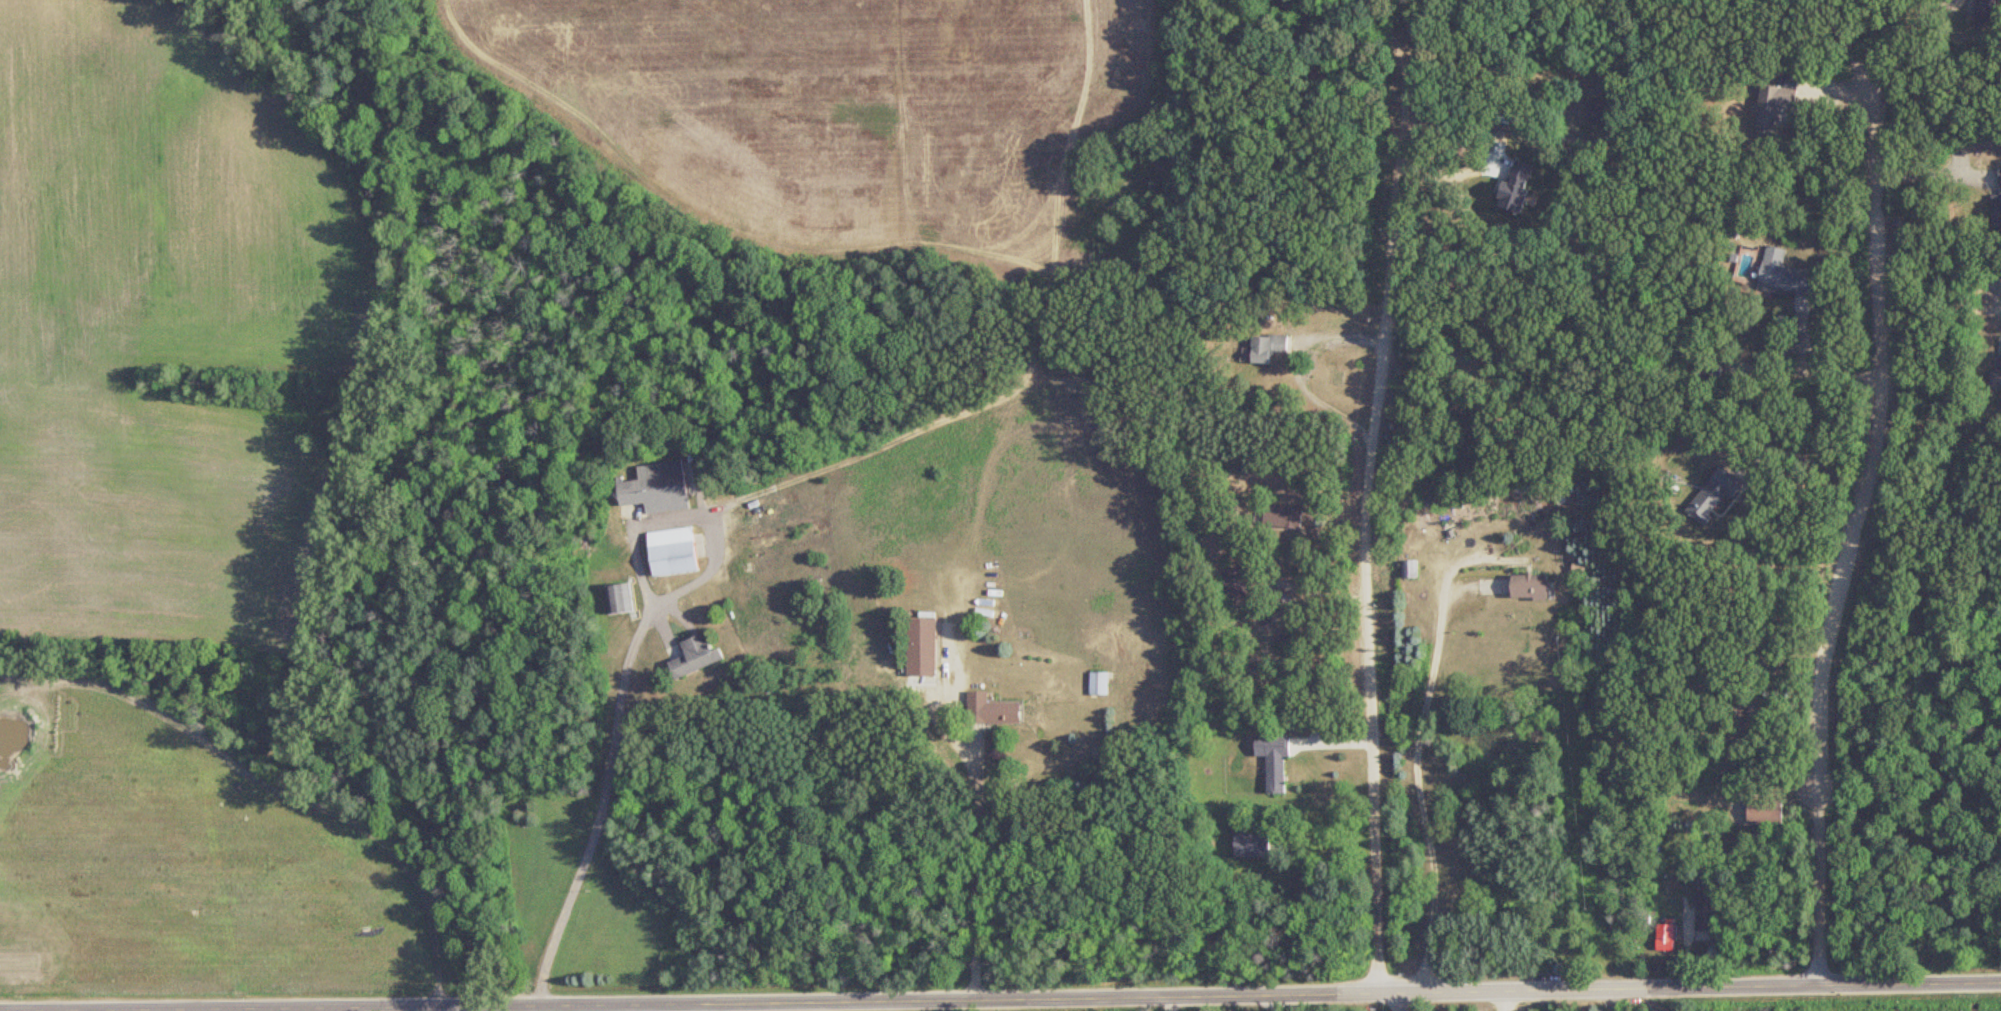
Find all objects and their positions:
road: (1936, 10)
building: (1984, 13)
road: (1844, 35)
road: (1899, 39)
road: (1431, 43)
building: (1772, 107)
building: (1601, 113)
road: (1497, 145)
road: (1928, 167)
building: (1997, 205)
building: (1785, 276)
road: (1929, 306)
building: (1267, 347)
road: (1296, 366)
road: (1815, 366)
building: (1708, 368)
building: (1996, 375)
road: (1813, 454)
building: (656, 488)
road: (1367, 490)
building: (1282, 517)
road: (1852, 531)
building: (671, 551)
building: (1409, 569)
building: (1236, 584)
road: (1311, 585)
building: (1528, 586)
building: (619, 599)
building: (921, 648)
building: (694, 656)
road: (629, 665)
building: (1098, 684)
building: (991, 711)
building: (1273, 761)
road: (1419, 778)
building: (1764, 813)
building: (1253, 844)
road: (979, 865)
building: (1705, 912)
building: (1666, 938)
road: (1008, 999)
road: (1508, 1000)
road: (1400, 1001)
road: (1171, 1003)
road: (471, 1008)
road: (106, 1010)

